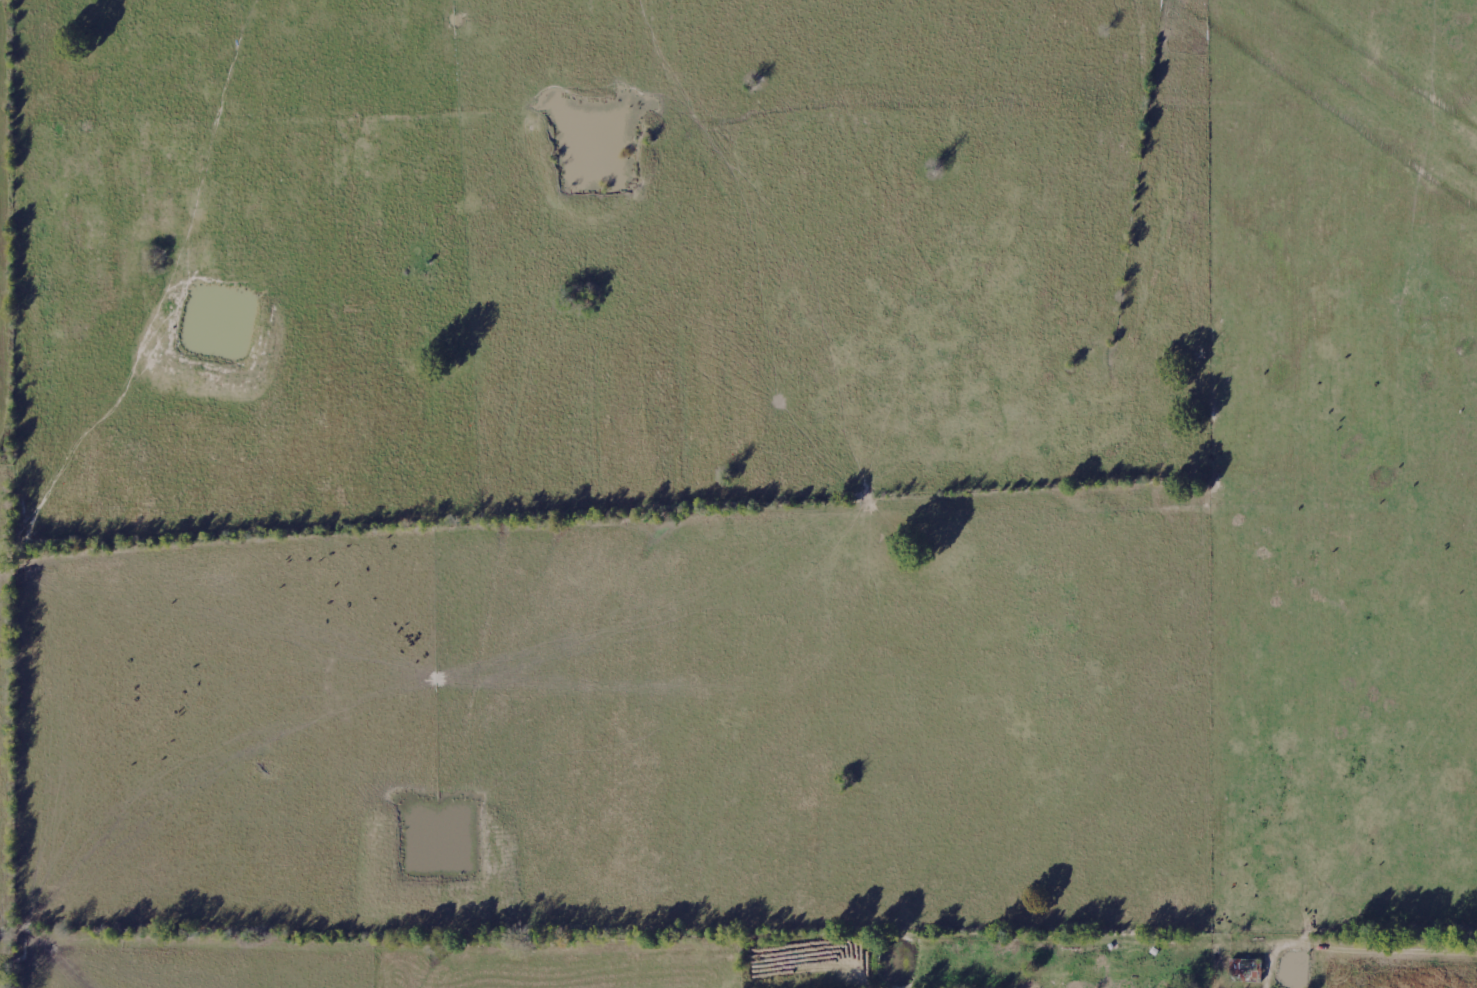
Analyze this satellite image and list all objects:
road: (1400, 952)
building: (1246, 969)

